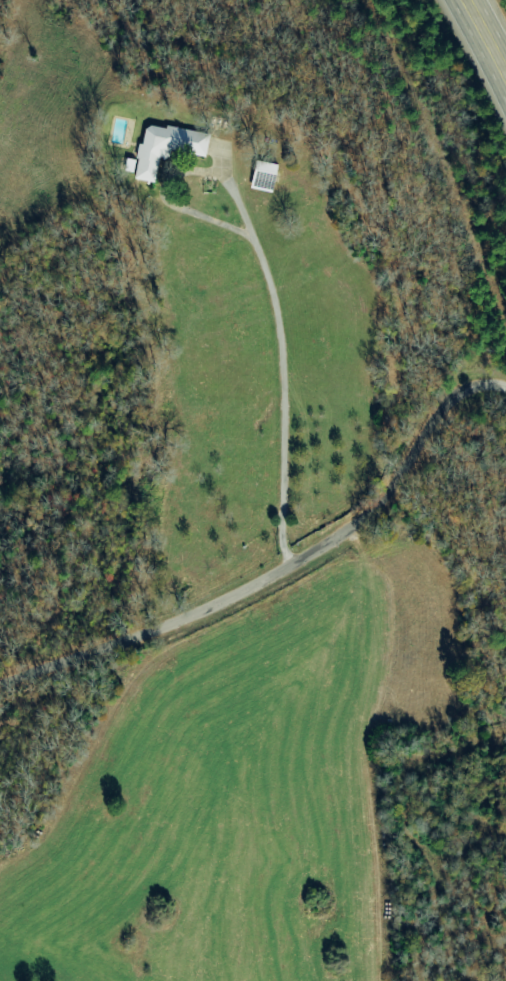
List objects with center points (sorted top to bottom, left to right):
road: (486, 37)
building: (168, 150)
road: (282, 366)
road: (57, 502)
road: (284, 571)

